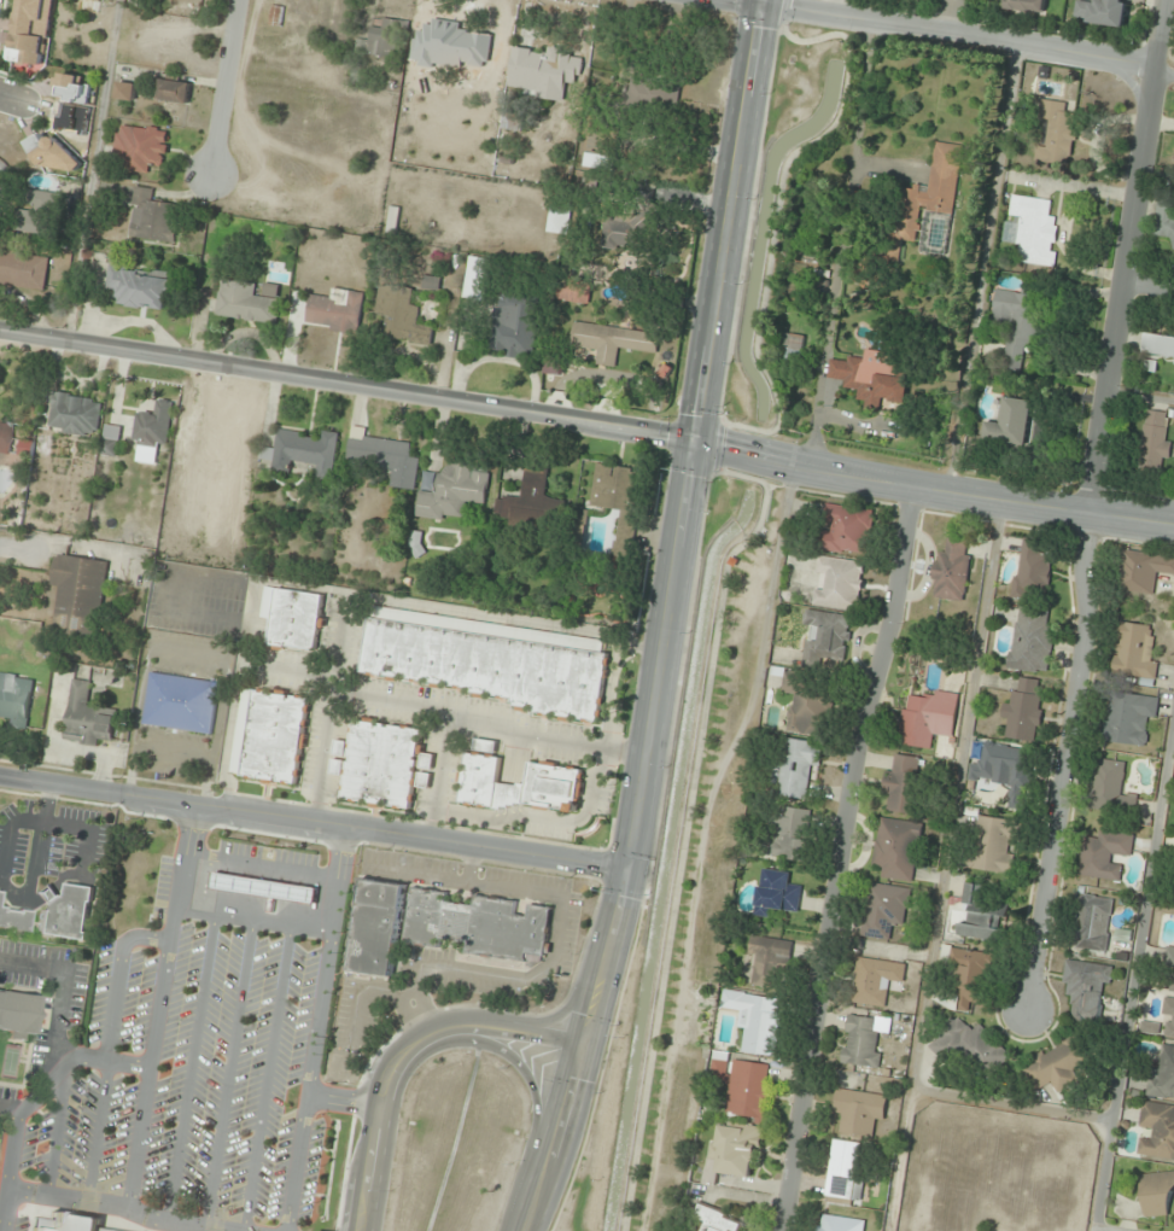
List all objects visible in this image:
road: (742, 2)
building: (1026, 5)
building: (88, 6)
traffic signals: (761, 6)
road: (829, 7)
road: (785, 13)
building: (276, 16)
road: (946, 17)
road: (969, 37)
building: (382, 40)
building: (28, 48)
building: (492, 52)
building: (545, 72)
road: (224, 87)
building: (125, 92)
building: (175, 92)
building: (653, 97)
road: (12, 100)
building: (513, 122)
building: (1057, 134)
building: (141, 147)
building: (1173, 159)
building: (594, 161)
building: (933, 191)
building: (37, 212)
road: (778, 216)
building: (153, 217)
building: (559, 220)
building: (1164, 220)
building: (1033, 231)
building: (619, 233)
building: (23, 270)
building: (478, 279)
building: (432, 282)
road: (1151, 285)
building: (140, 287)
building: (245, 303)
building: (335, 311)
building: (402, 316)
building: (1021, 321)
building: (516, 325)
building: (612, 342)
building: (1158, 348)
building: (871, 380)
building: (75, 415)
road: (544, 419)
building: (1010, 424)
building: (154, 426)
building: (6, 437)
building: (1156, 439)
traffic signals: (695, 444)
building: (110, 448)
road: (719, 448)
building: (304, 453)
building: (387, 459)
building: (615, 489)
building: (454, 492)
building: (532, 503)
road: (1090, 507)
road: (1132, 519)
road: (683, 524)
building: (848, 530)
road: (18, 548)
building: (1032, 570)
building: (952, 571)
building: (1145, 571)
building: (840, 583)
building: (80, 595)
building: (293, 618)
building: (828, 638)
building: (1033, 641)
building: (1134, 652)
building: (484, 660)
building: (14, 696)
building: (181, 702)
building: (808, 702)
building: (1023, 710)
building: (87, 718)
building: (1129, 718)
building: (929, 719)
building: (270, 735)
building: (382, 763)
building: (796, 766)
building: (1005, 769)
building: (555, 776)
building: (905, 783)
building: (1110, 788)
road: (314, 819)
road: (688, 828)
building: (790, 833)
road: (703, 842)
building: (995, 845)
building: (898, 848)
road: (652, 852)
building: (1104, 854)
road: (841, 857)
traffic signals: (629, 865)
road: (258, 868)
building: (264, 887)
gas station: (264, 887)
building: (0, 892)
building: (776, 893)
building: (884, 910)
building: (66, 912)
building: (980, 916)
building: (14, 920)
road: (250, 920)
building: (475, 922)
building: (1093, 923)
building: (1173, 923)
building: (374, 926)
building: (1169, 957)
building: (769, 961)
road: (115, 979)
building: (973, 979)
building: (876, 981)
building: (1086, 990)
road: (59, 991)
road: (156, 1005)
building: (14, 1013)
building: (1163, 1015)
building: (757, 1021)
road: (314, 1027)
building: (863, 1042)
traffic signals: (582, 1045)
building: (970, 1048)
road: (404, 1055)
road: (513, 1058)
park: (8, 1061)
building: (1058, 1066)
road: (188, 1068)
road: (227, 1074)
building: (1162, 1077)
road: (265, 1079)
road: (43, 1086)
building: (748, 1089)
road: (343, 1102)
road: (11, 1107)
building: (859, 1112)
road: (57, 1130)
road: (95, 1131)
building: (1156, 1132)
road: (556, 1139)
building: (736, 1150)
building: (846, 1171)
building: (1157, 1194)
road: (115, 1206)
road: (6, 1210)
building: (718, 1220)
building: (68, 1223)
building: (840, 1224)
road: (524, 1230)

